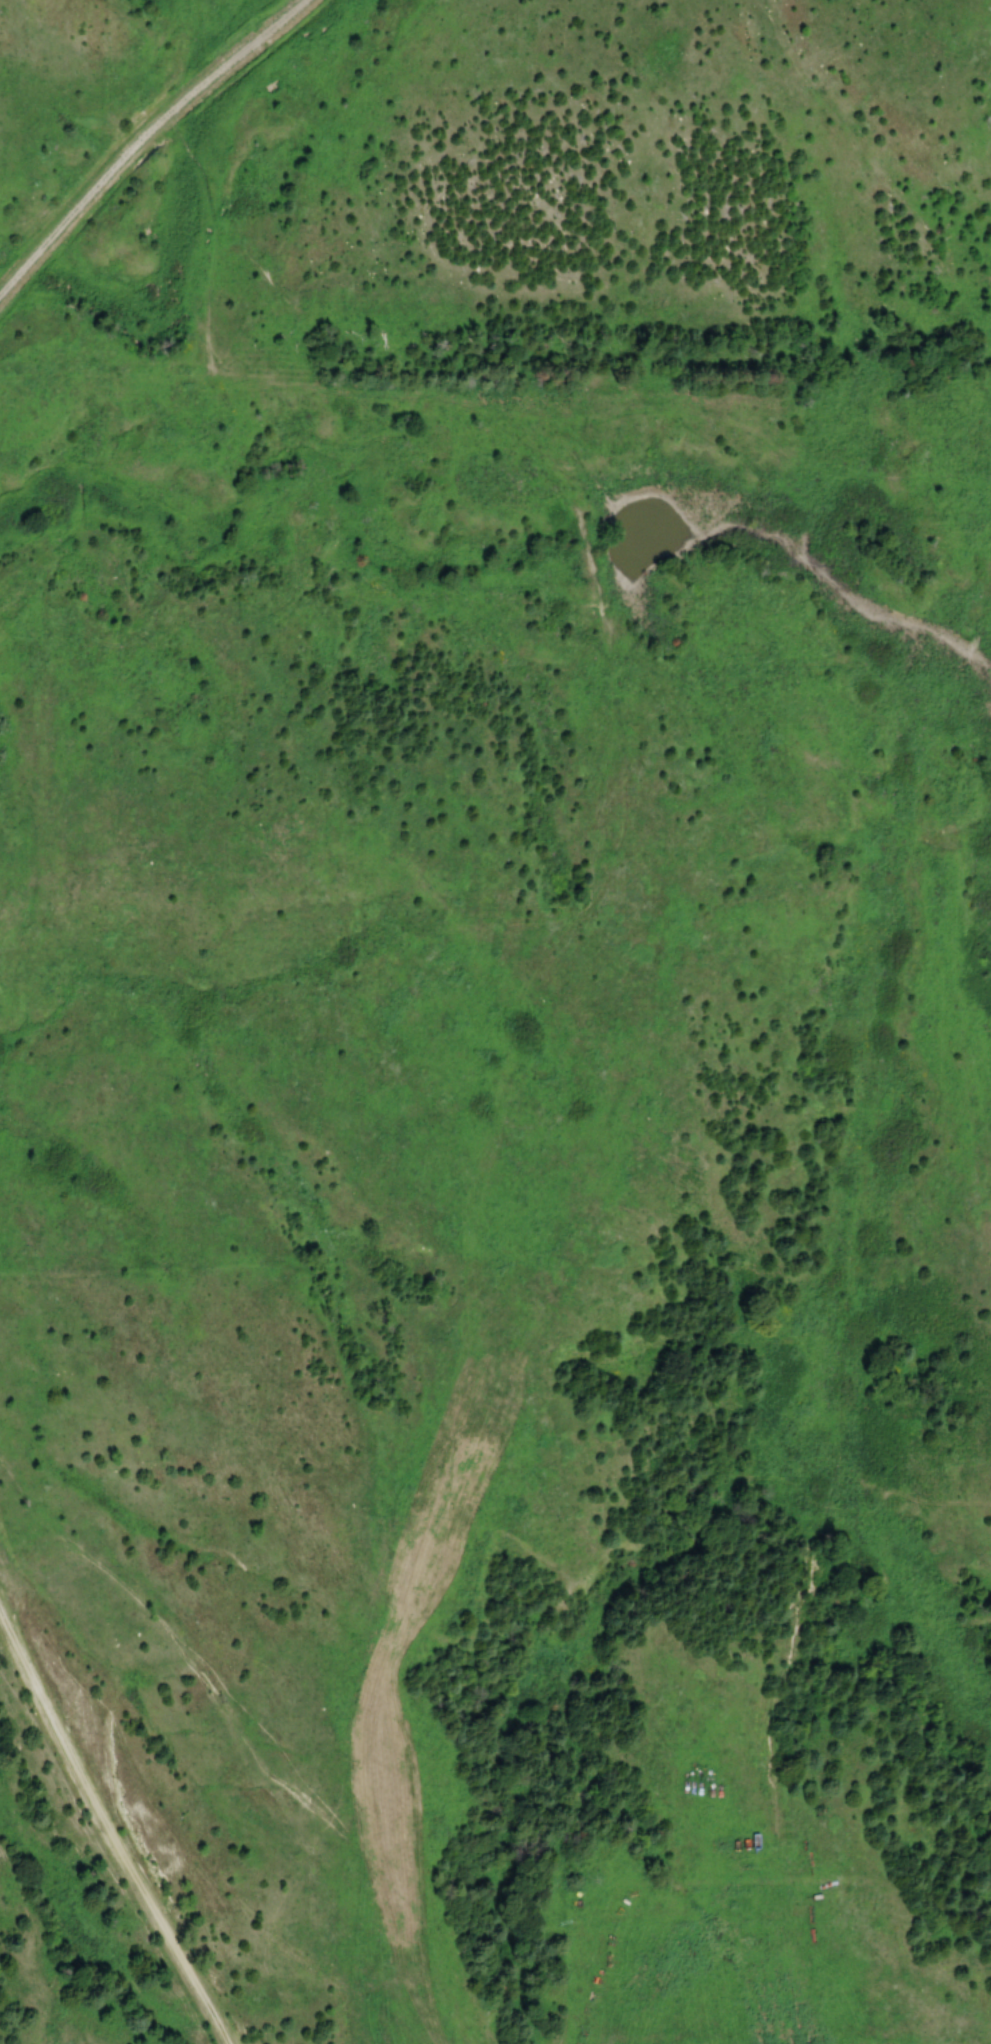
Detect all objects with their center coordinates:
road: (142, 138)
road: (110, 1826)

